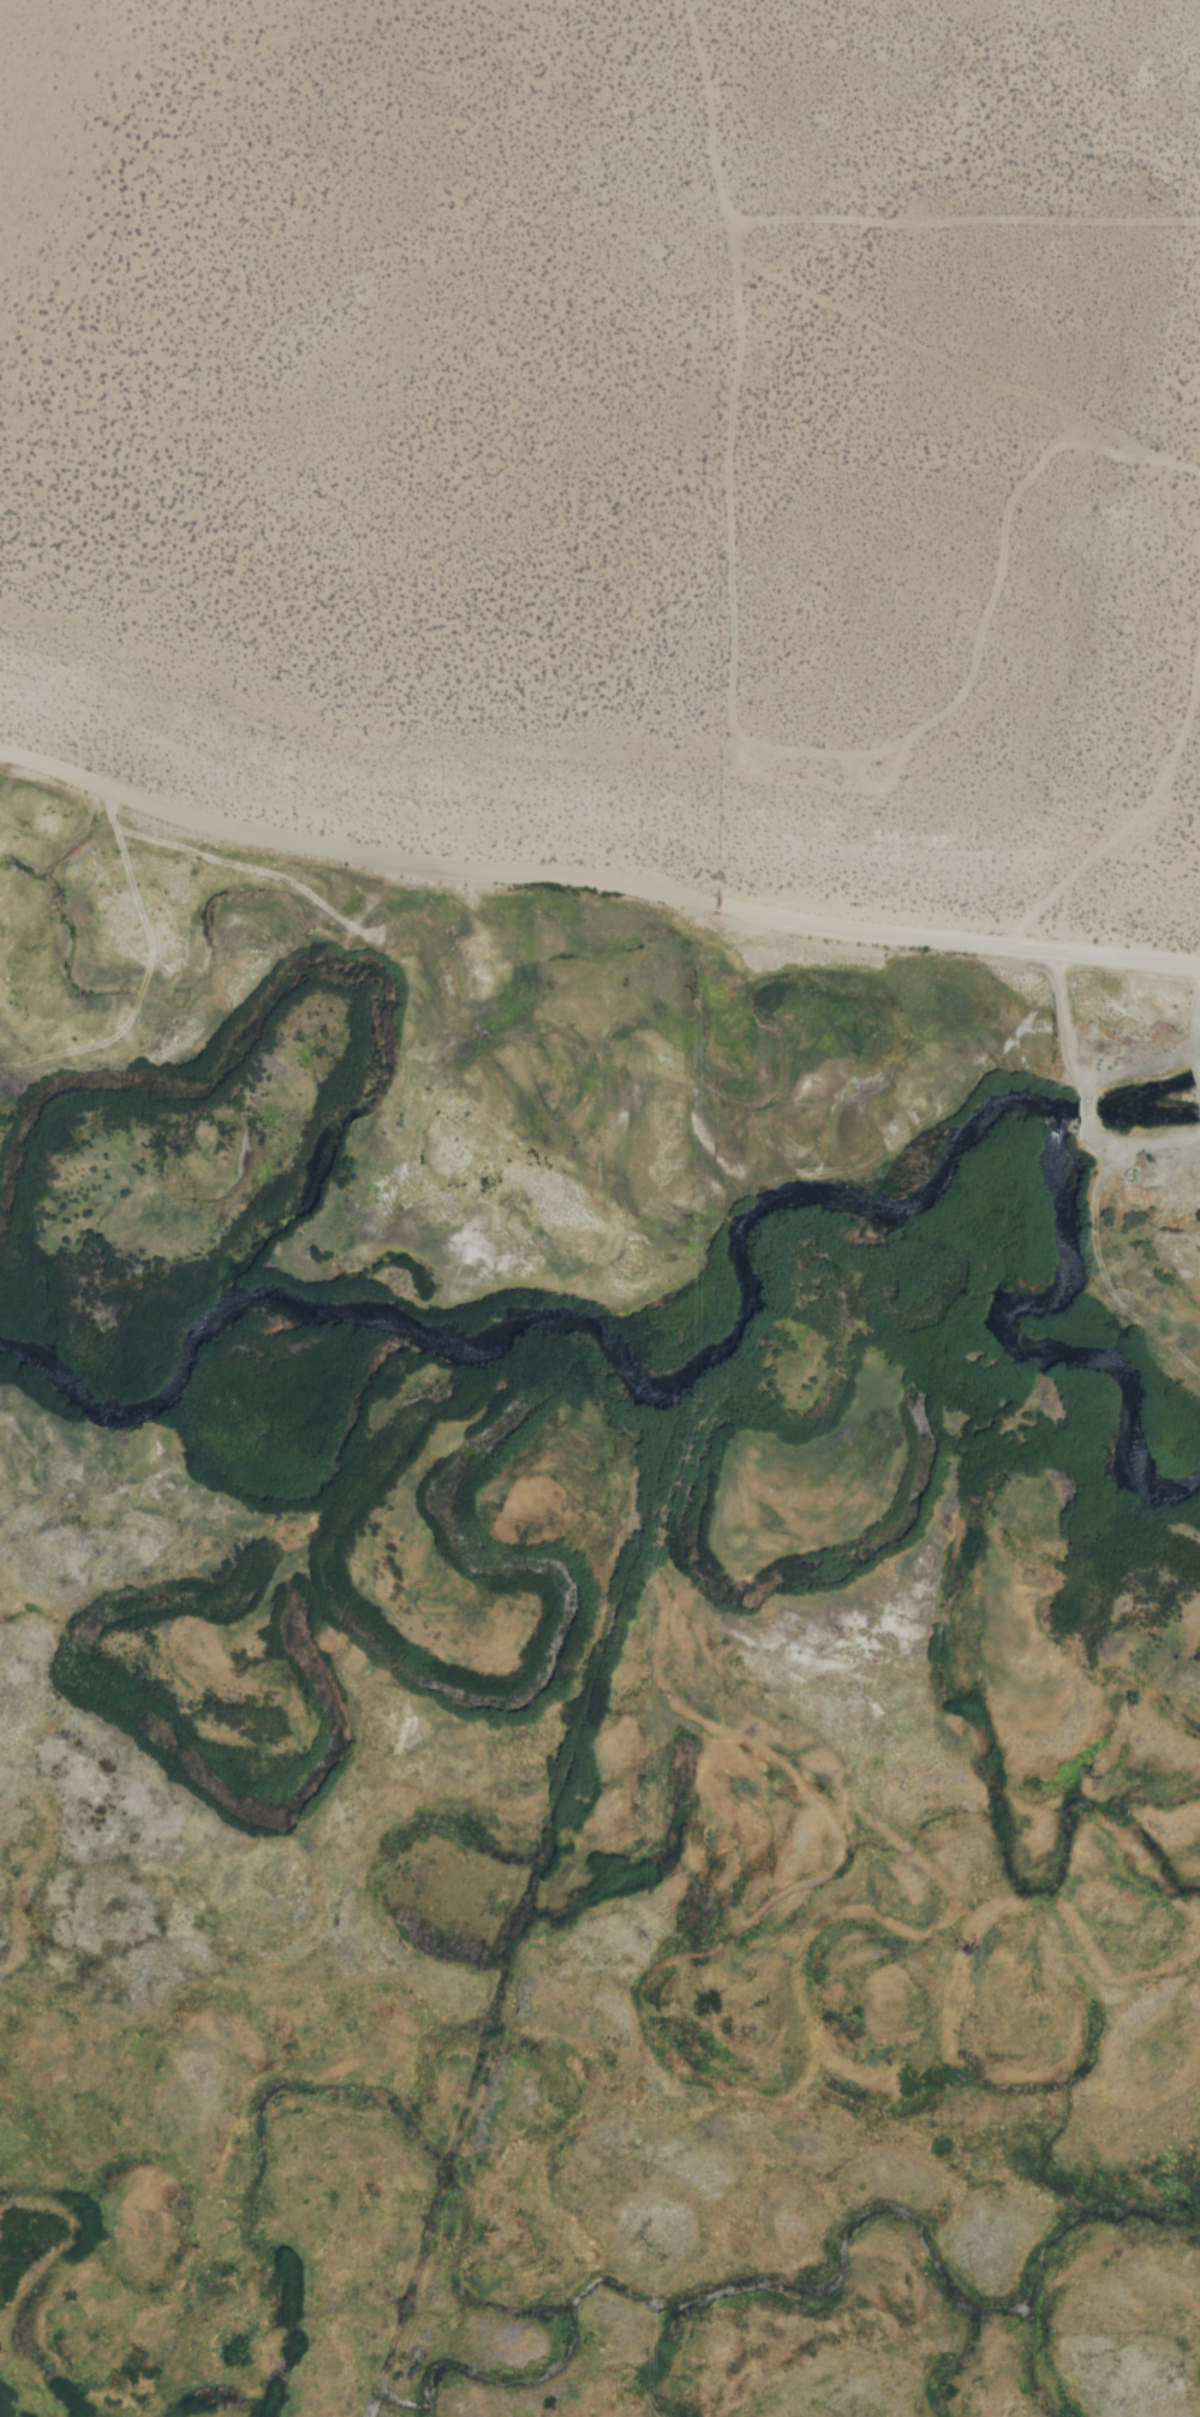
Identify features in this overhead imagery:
road: (961, 221)
road: (965, 370)
road: (728, 683)
road: (1123, 839)
road: (595, 870)
river: (393, 1022)
road: (1058, 1023)
road: (1136, 1055)
road: (1081, 1112)
road: (1136, 1143)
river: (829, 1221)
river: (1047, 1333)
river: (641, 1371)

